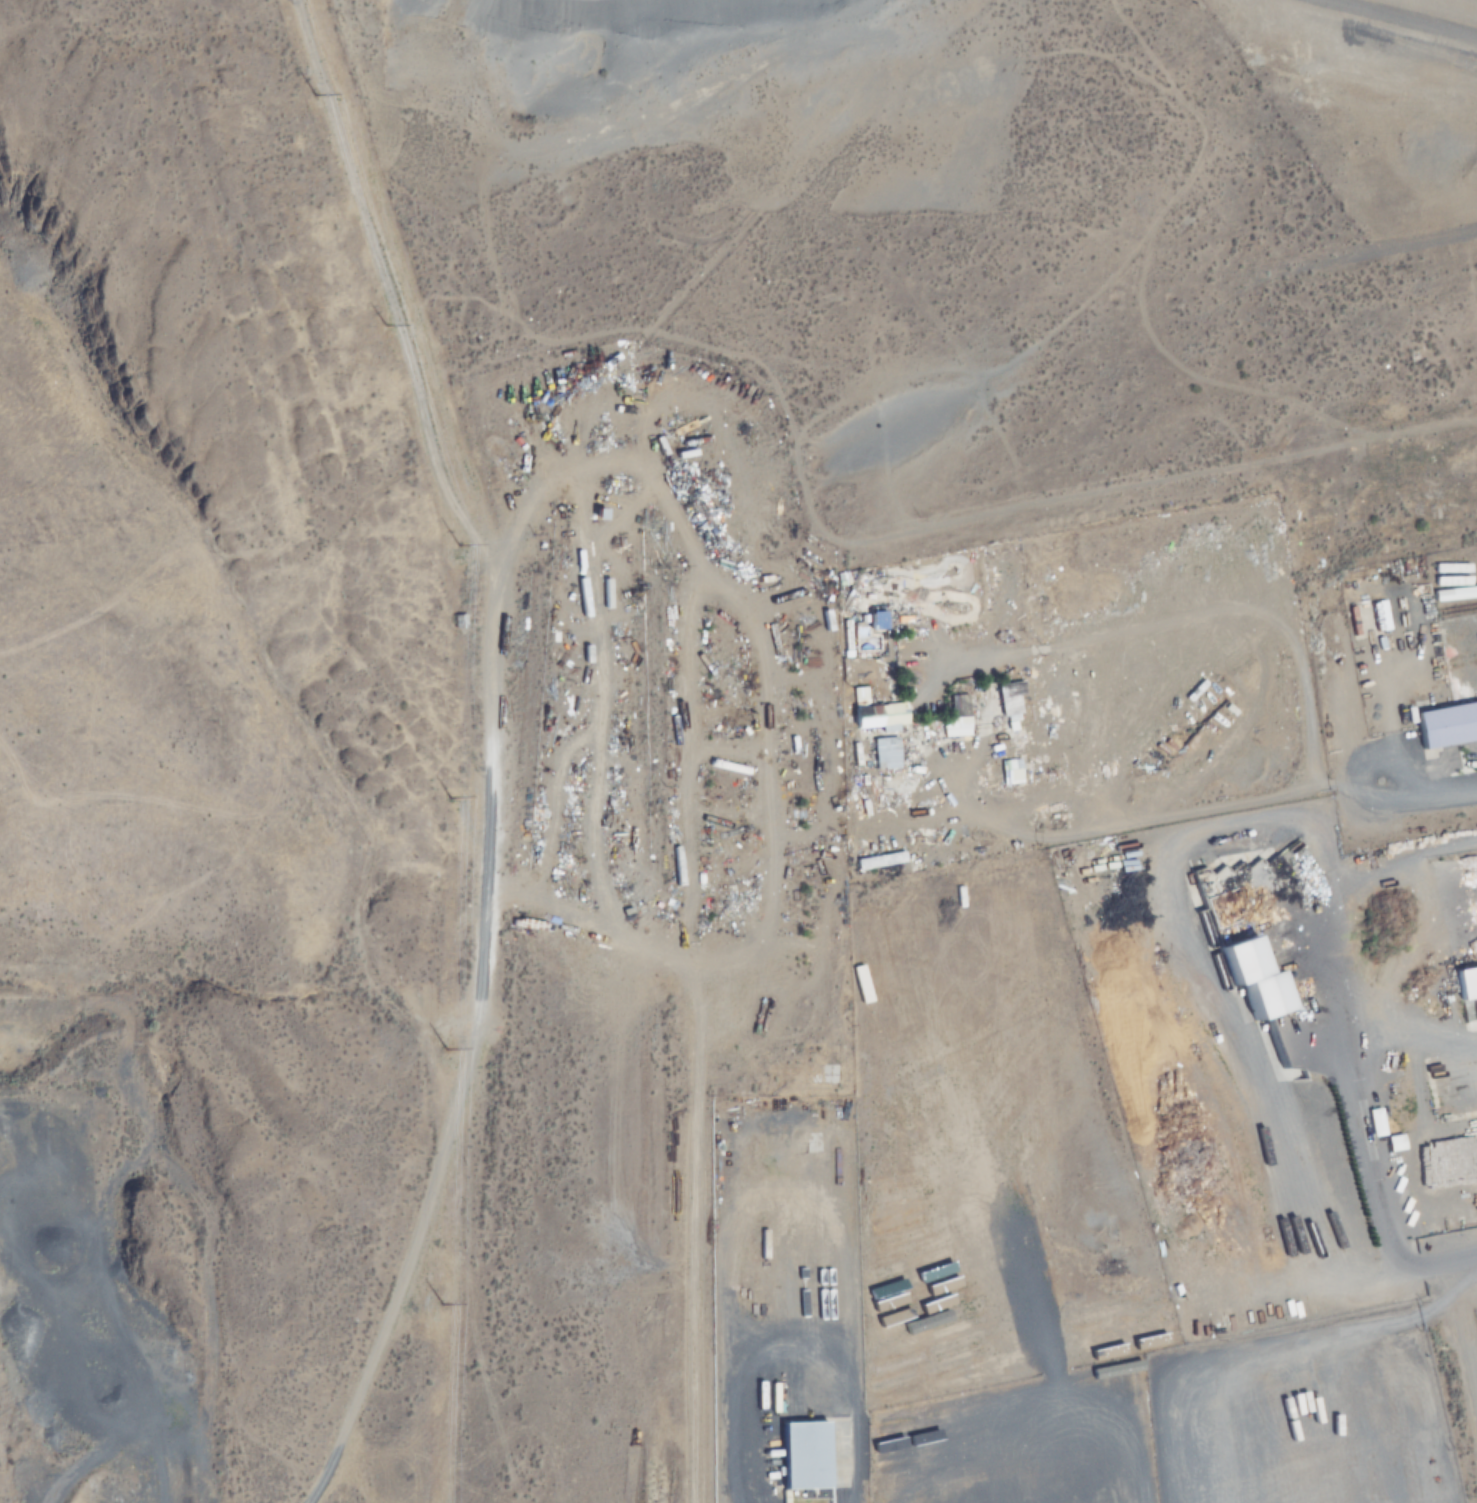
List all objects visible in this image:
road: (1405, 18)
parking lot: (1382, 51)
building: (1440, 455)
building: (1379, 460)
building: (1405, 488)
building: (1433, 512)
building: (1311, 529)
building: (1441, 532)
building: (1454, 569)
building: (1450, 603)
building: (1375, 618)
building: (459, 621)
building: (874, 621)
building: (1015, 699)
building: (862, 709)
building: (959, 715)
building: (1442, 719)
building: (889, 752)
building: (1013, 772)
road: (1369, 818)
building: (865, 862)
building: (1240, 970)
building: (1461, 978)
road: (474, 994)
building: (1374, 1123)
building: (1392, 1144)
road: (1438, 1265)
building: (1185, 1320)
road: (854, 1419)
building: (801, 1456)

